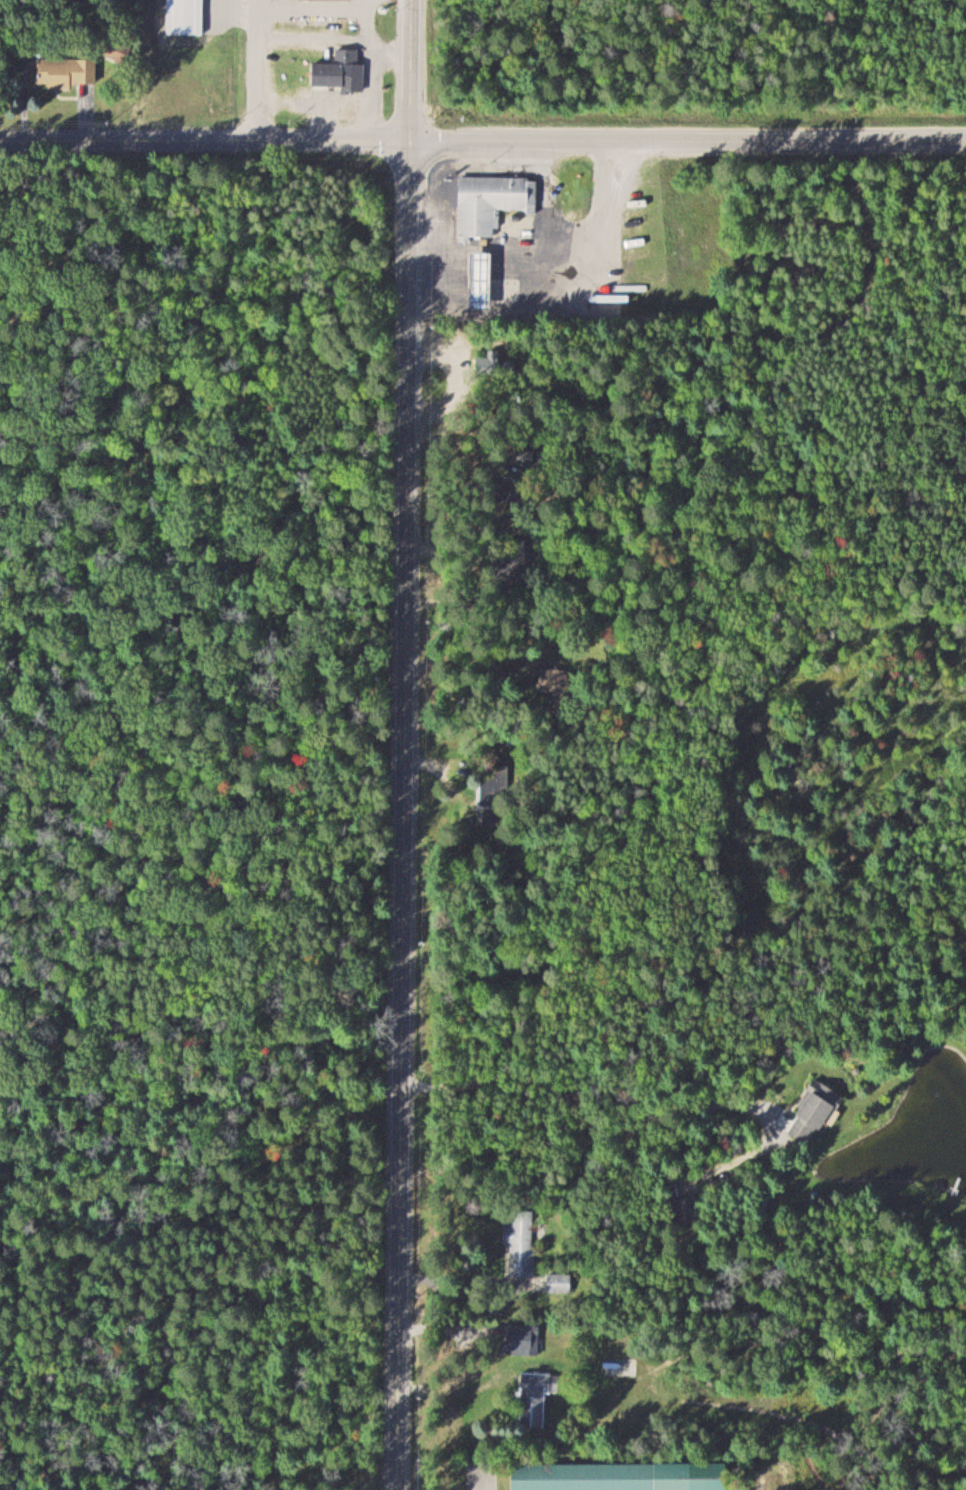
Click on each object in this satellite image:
building: (326, 0)
building: (186, 17)
building: (118, 52)
road: (407, 69)
road: (256, 70)
building: (340, 71)
building: (69, 73)
road: (686, 137)
road: (203, 140)
building: (487, 200)
building: (481, 279)
road: (398, 813)
building: (820, 1105)
building: (802, 1132)
building: (686, 1209)
building: (523, 1243)
building: (560, 1283)
building: (524, 1340)
building: (535, 1400)
building: (603, 1476)

